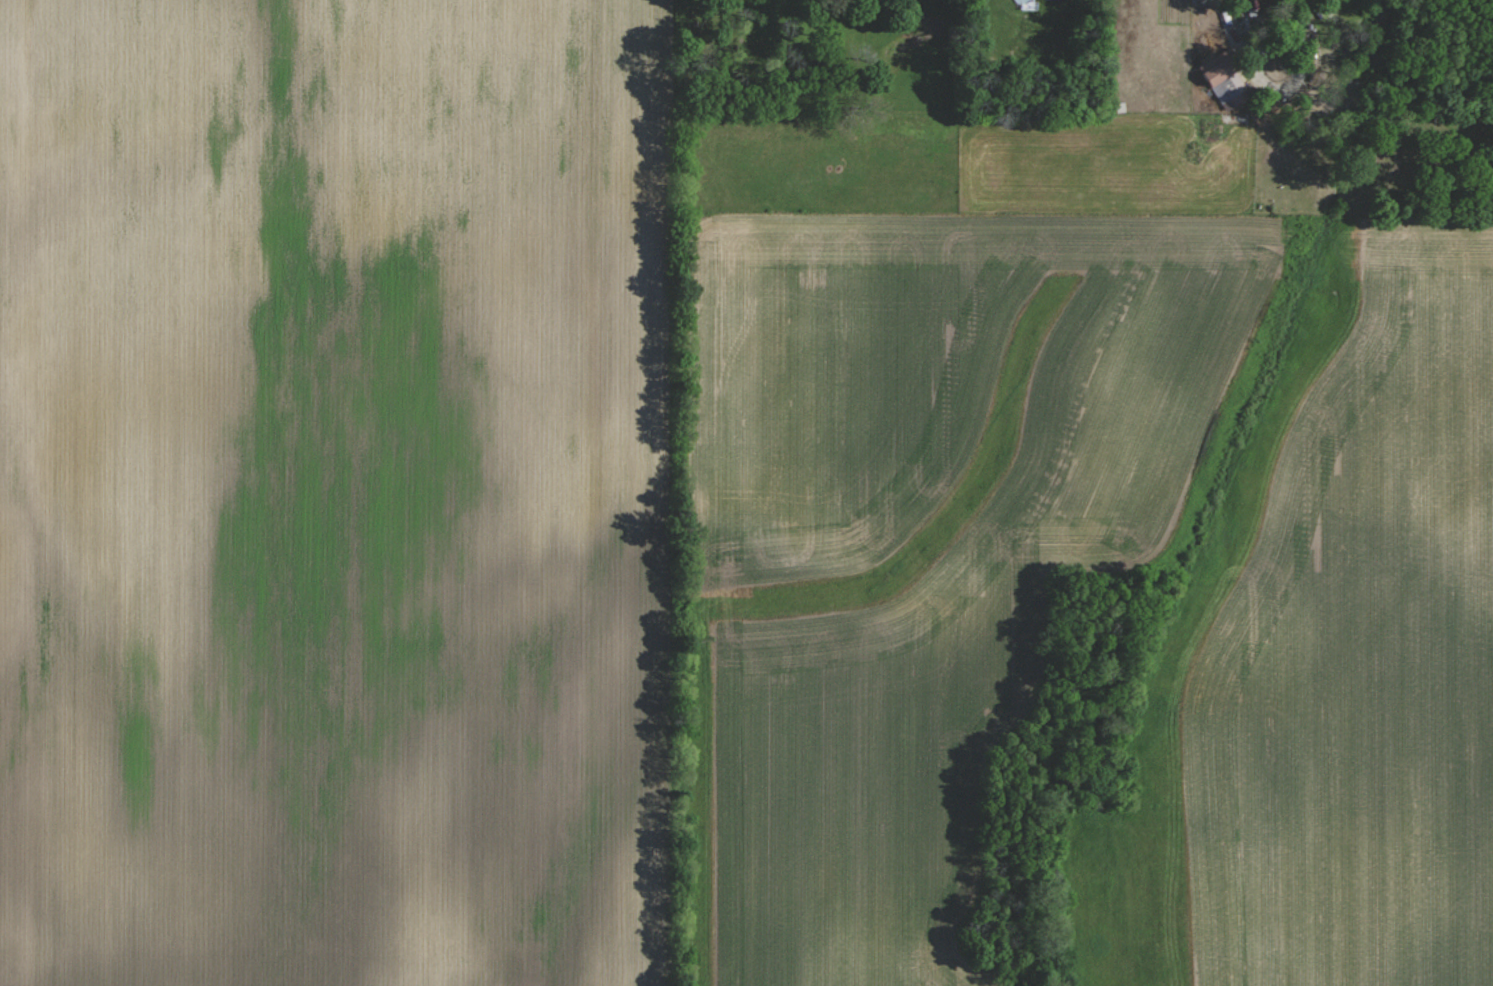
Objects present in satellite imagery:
road: (1299, 15)
building: (1228, 79)
road: (1272, 83)

